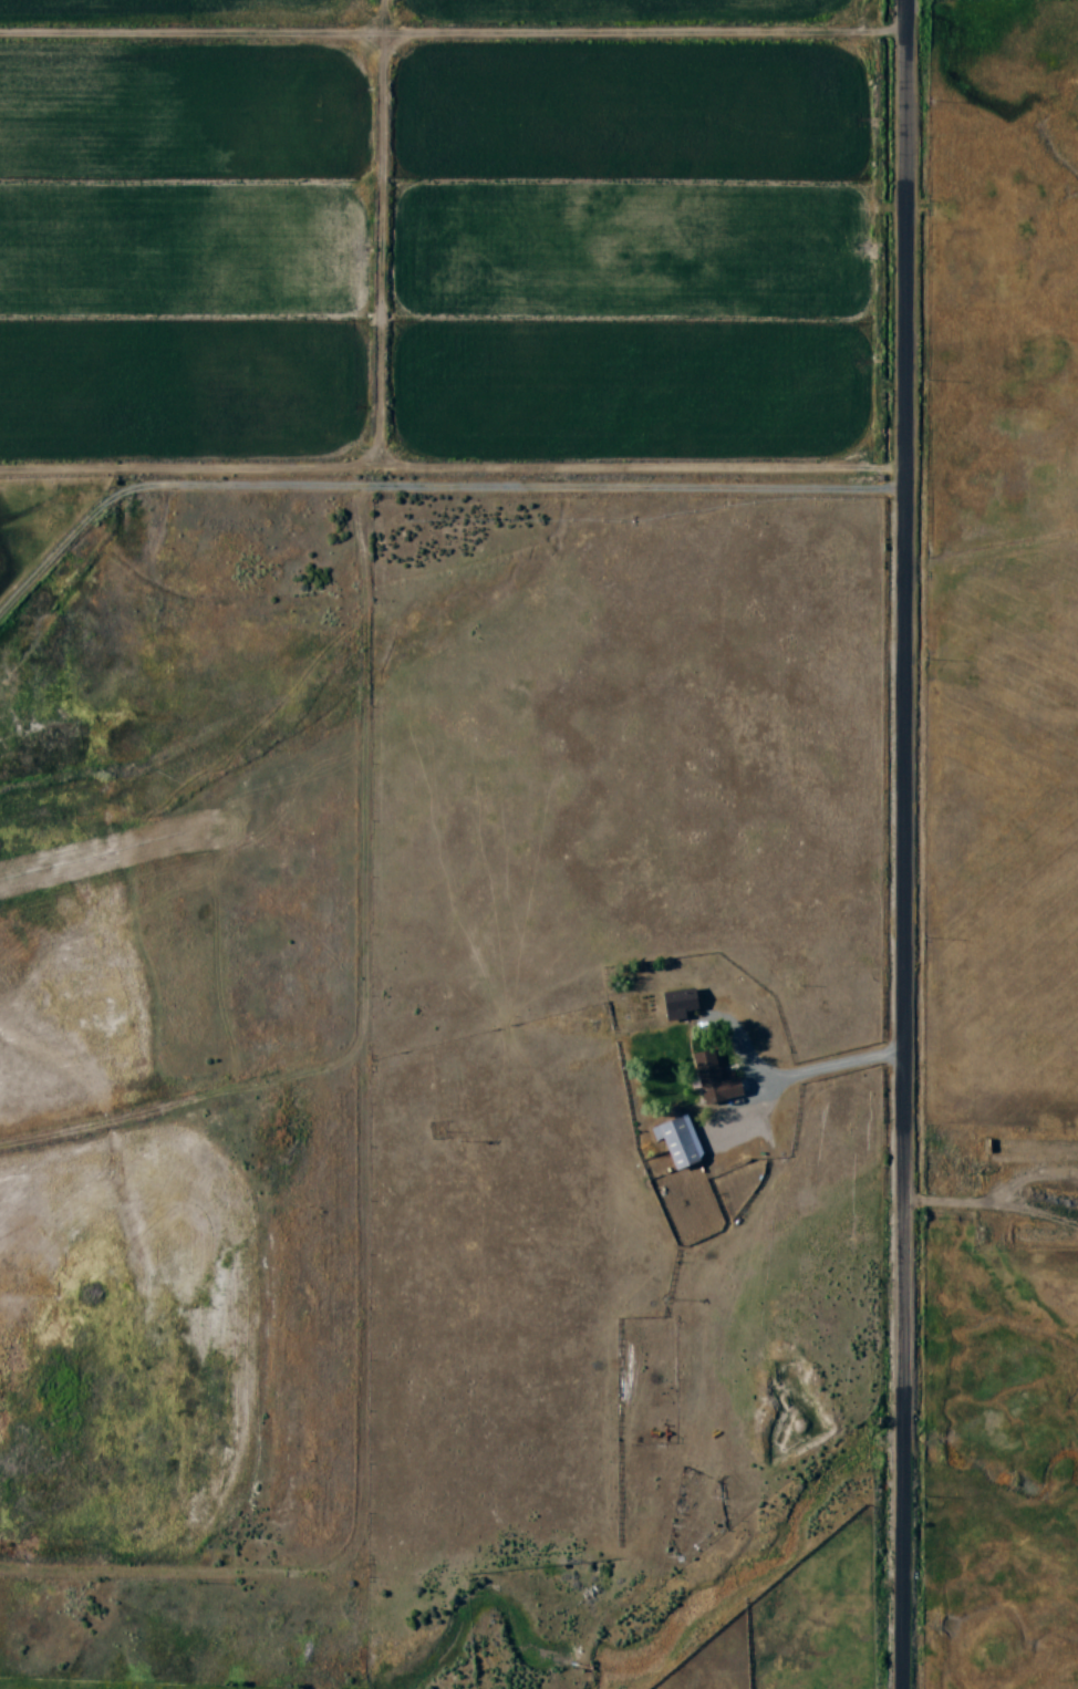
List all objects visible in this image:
road: (912, 274)
building: (676, 1004)
building: (712, 1079)
road: (910, 1119)
building: (676, 1140)

